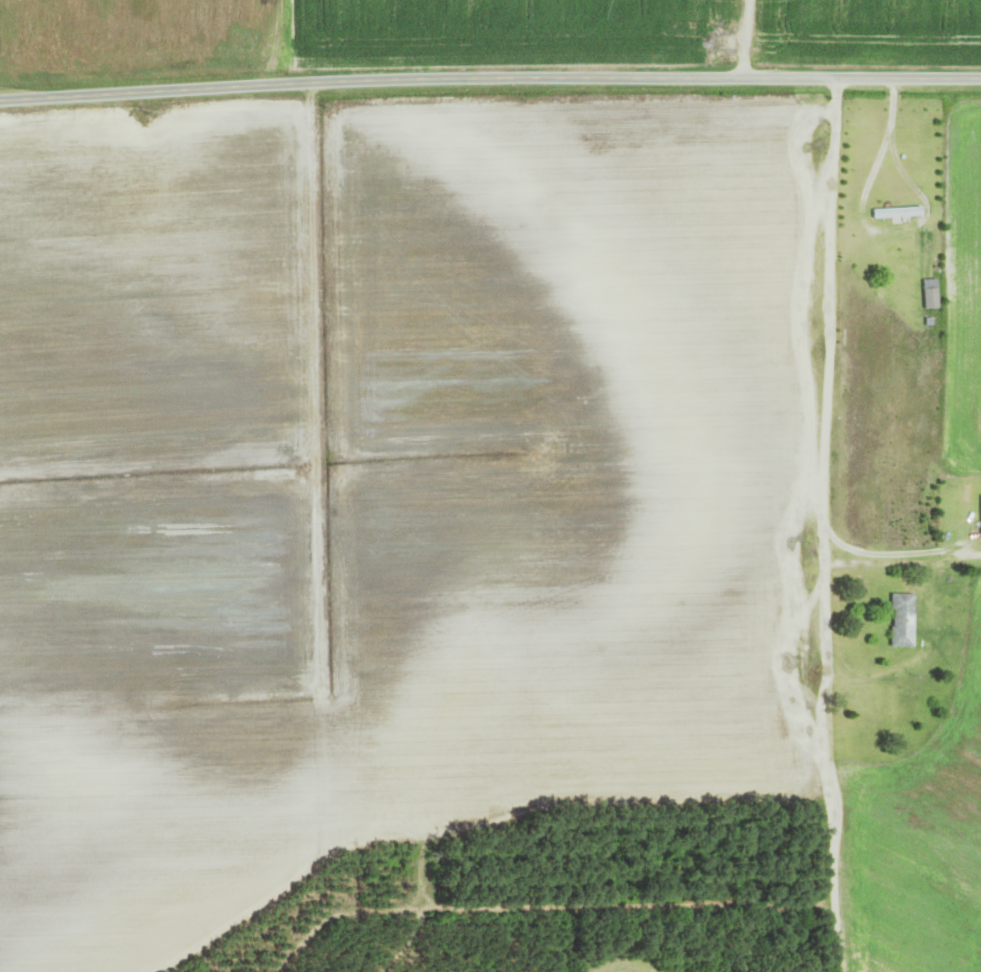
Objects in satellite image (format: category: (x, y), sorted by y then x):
road: (739, 39)
road: (490, 81)
building: (893, 213)
building: (924, 295)
road: (312, 394)
building: (978, 518)
road: (817, 525)
building: (896, 621)

